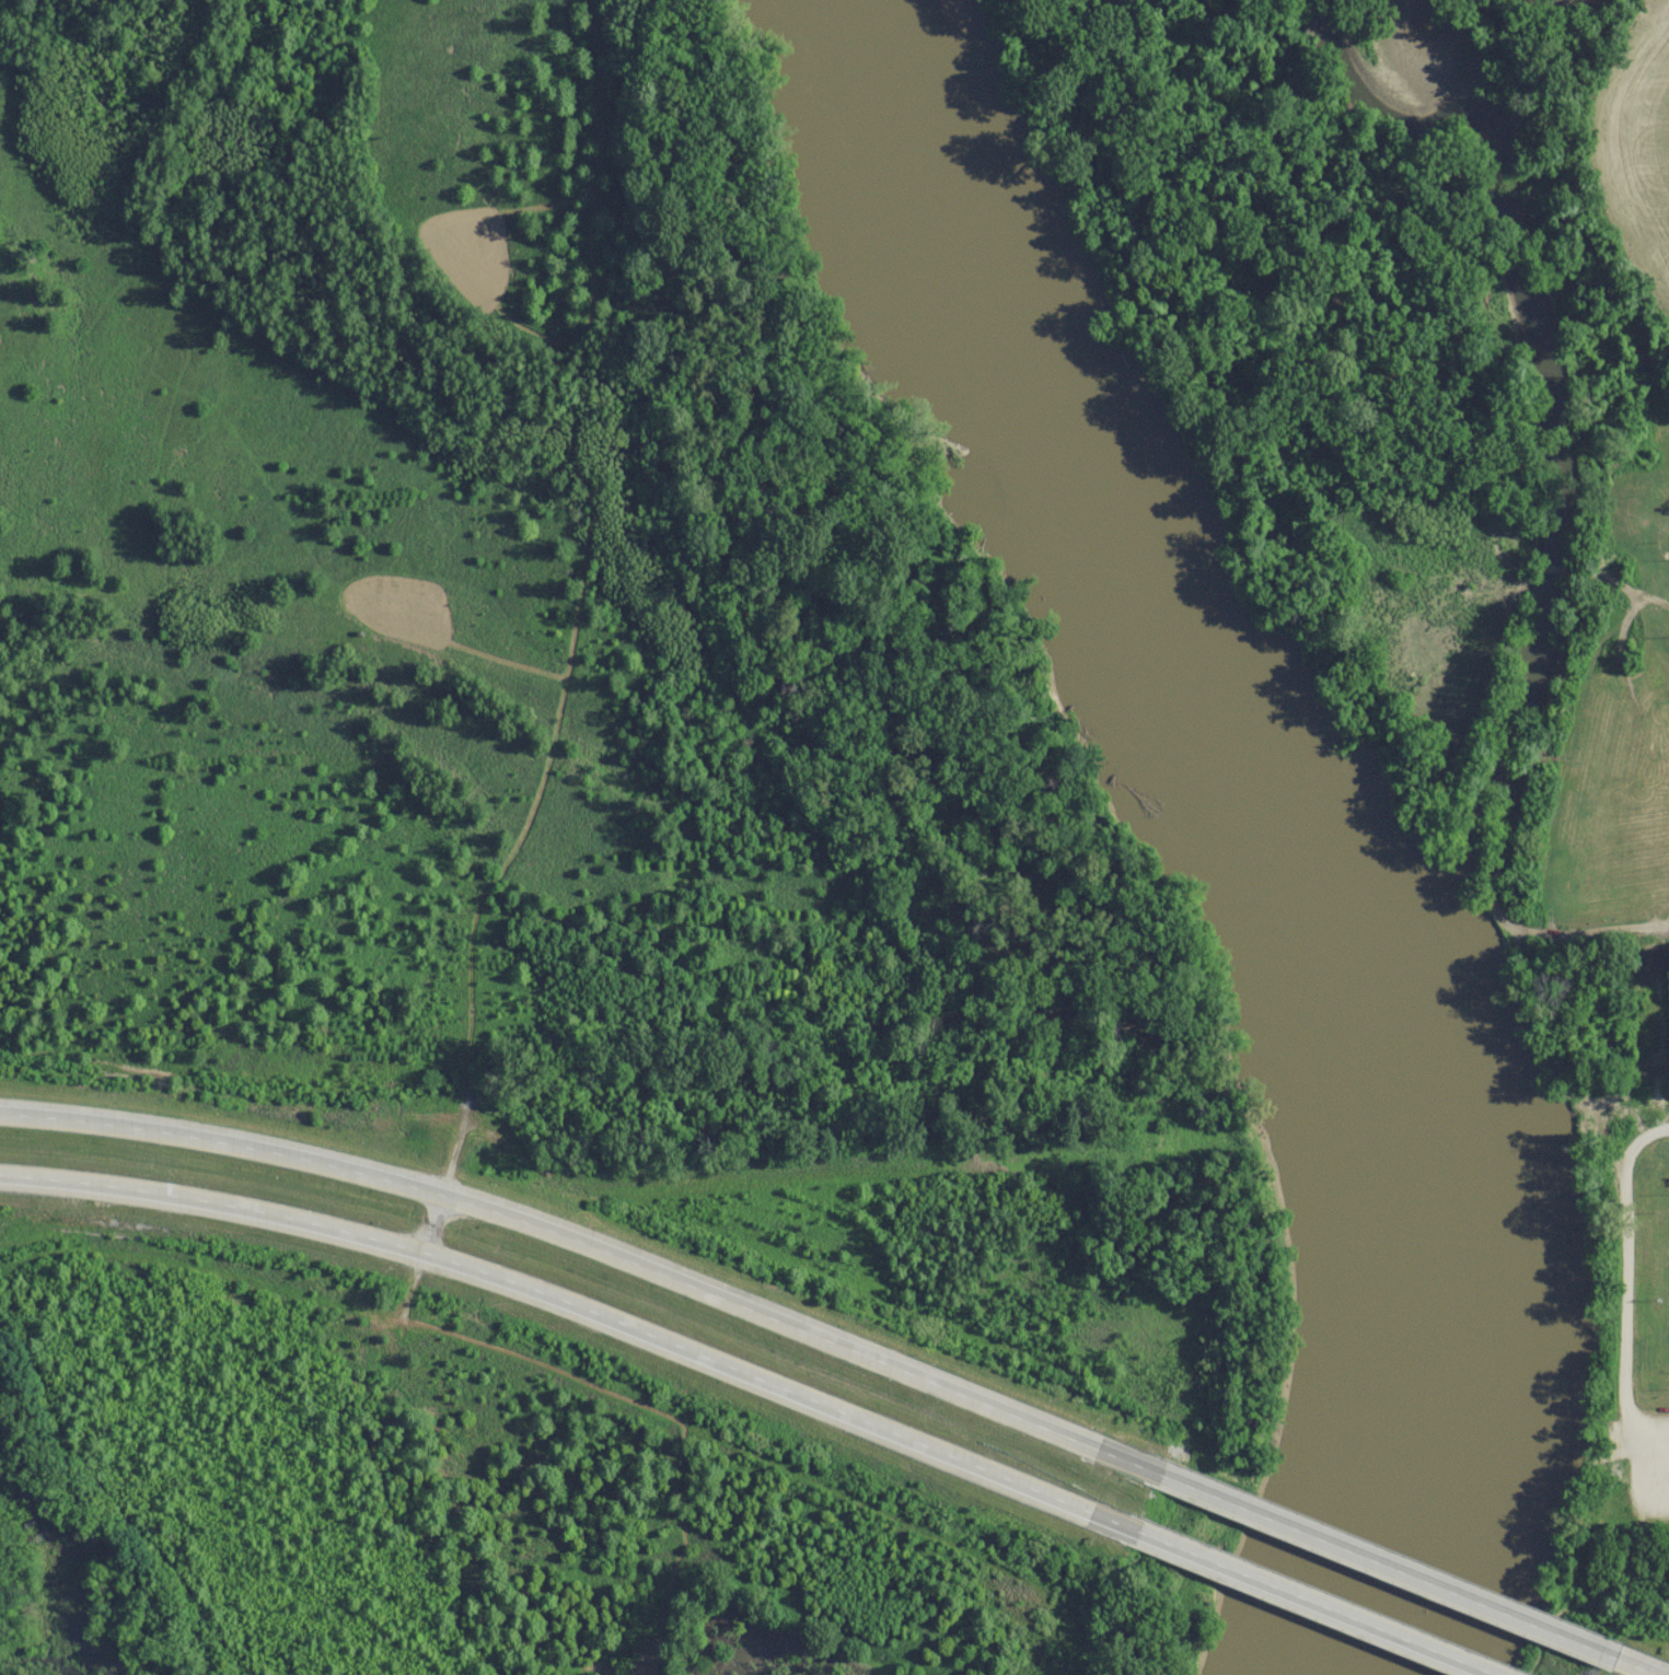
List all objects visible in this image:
road: (1580, 574)
road: (640, 620)
river: (1270, 814)
road: (1593, 942)
road: (432, 1229)
road: (591, 1249)
road: (1627, 1277)
road: (865, 1296)
road: (579, 1311)
road: (1380, 1569)
road: (1303, 1605)
road: (1623, 1667)

